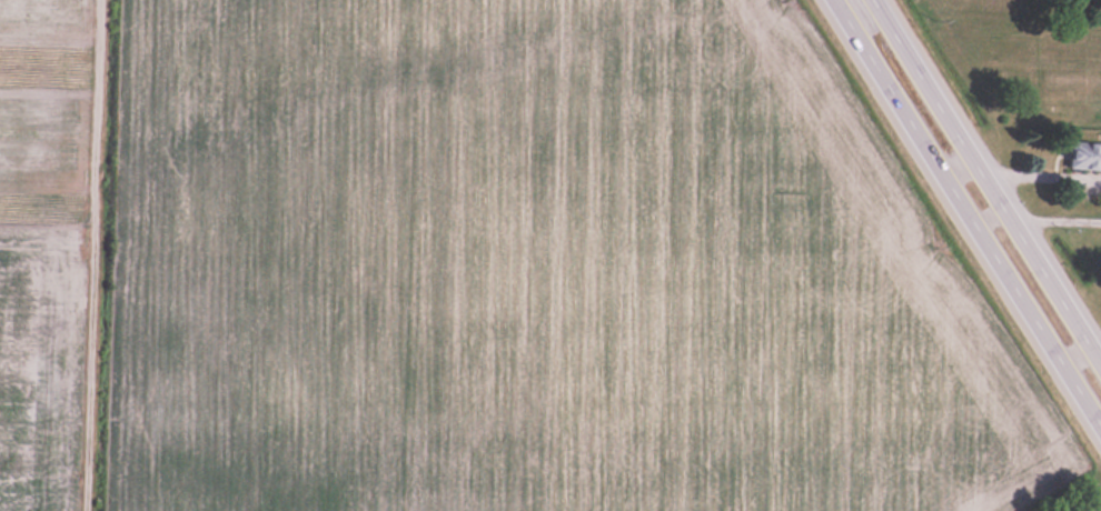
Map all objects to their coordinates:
building: (1083, 156)
road: (990, 176)
road: (966, 213)
road: (1060, 221)
building: (1078, 510)

